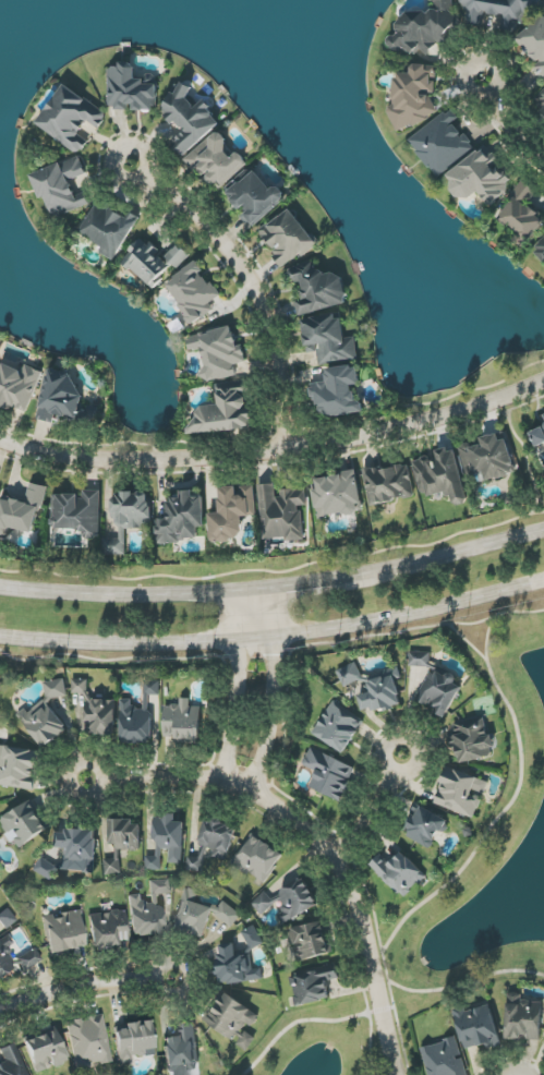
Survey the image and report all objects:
building: (499, 12)
building: (424, 28)
building: (534, 46)
road: (479, 59)
building: (131, 89)
building: (414, 97)
building: (541, 106)
building: (71, 118)
building: (191, 119)
road: (516, 130)
building: (442, 143)
building: (217, 161)
building: (480, 177)
building: (61, 186)
building: (256, 197)
building: (522, 214)
building: (108, 228)
building: (543, 237)
building: (288, 238)
road: (227, 250)
building: (153, 262)
building: (317, 288)
building: (194, 292)
building: (329, 339)
building: (218, 352)
building: (17, 386)
building: (338, 392)
building: (64, 398)
building: (225, 411)
building: (539, 437)
road: (275, 451)
building: (489, 457)
building: (442, 475)
building: (389, 484)
building: (338, 495)
building: (22, 511)
building: (80, 512)
building: (232, 512)
building: (281, 512)
building: (182, 518)
building: (129, 519)
road: (438, 558)
road: (283, 585)
road: (117, 595)
road: (404, 632)
road: (488, 636)
road: (275, 637)
building: (435, 685)
road: (238, 687)
building: (375, 687)
road: (274, 690)
building: (97, 711)
building: (46, 715)
building: (140, 715)
building: (183, 721)
building: (339, 727)
building: (472, 739)
building: (19, 768)
building: (329, 774)
building: (461, 792)
road: (513, 802)
road: (374, 811)
building: (25, 823)
building: (425, 826)
building: (125, 834)
building: (218, 837)
road: (316, 841)
building: (167, 843)
building: (73, 851)
building: (257, 858)
building: (196, 861)
building: (111, 866)
building: (399, 873)
building: (289, 902)
building: (148, 910)
building: (201, 914)
building: (7, 919)
building: (108, 930)
building: (64, 932)
building: (253, 938)
building: (310, 941)
building: (32, 954)
road: (383, 955)
building: (235, 966)
building: (313, 985)
road: (467, 987)
road: (85, 988)
road: (356, 990)
building: (523, 1018)
building: (233, 1020)
road: (298, 1024)
building: (477, 1027)
road: (371, 1031)
building: (88, 1041)
building: (133, 1041)
building: (182, 1050)
building: (45, 1052)
building: (444, 1059)
building: (12, 1061)

